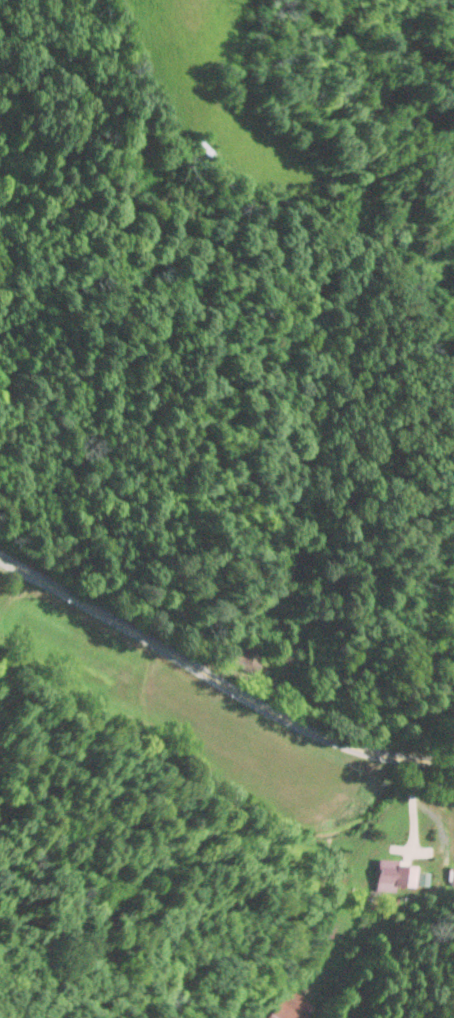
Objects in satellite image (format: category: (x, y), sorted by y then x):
building: (247, 658)
road: (219, 677)
building: (395, 875)

